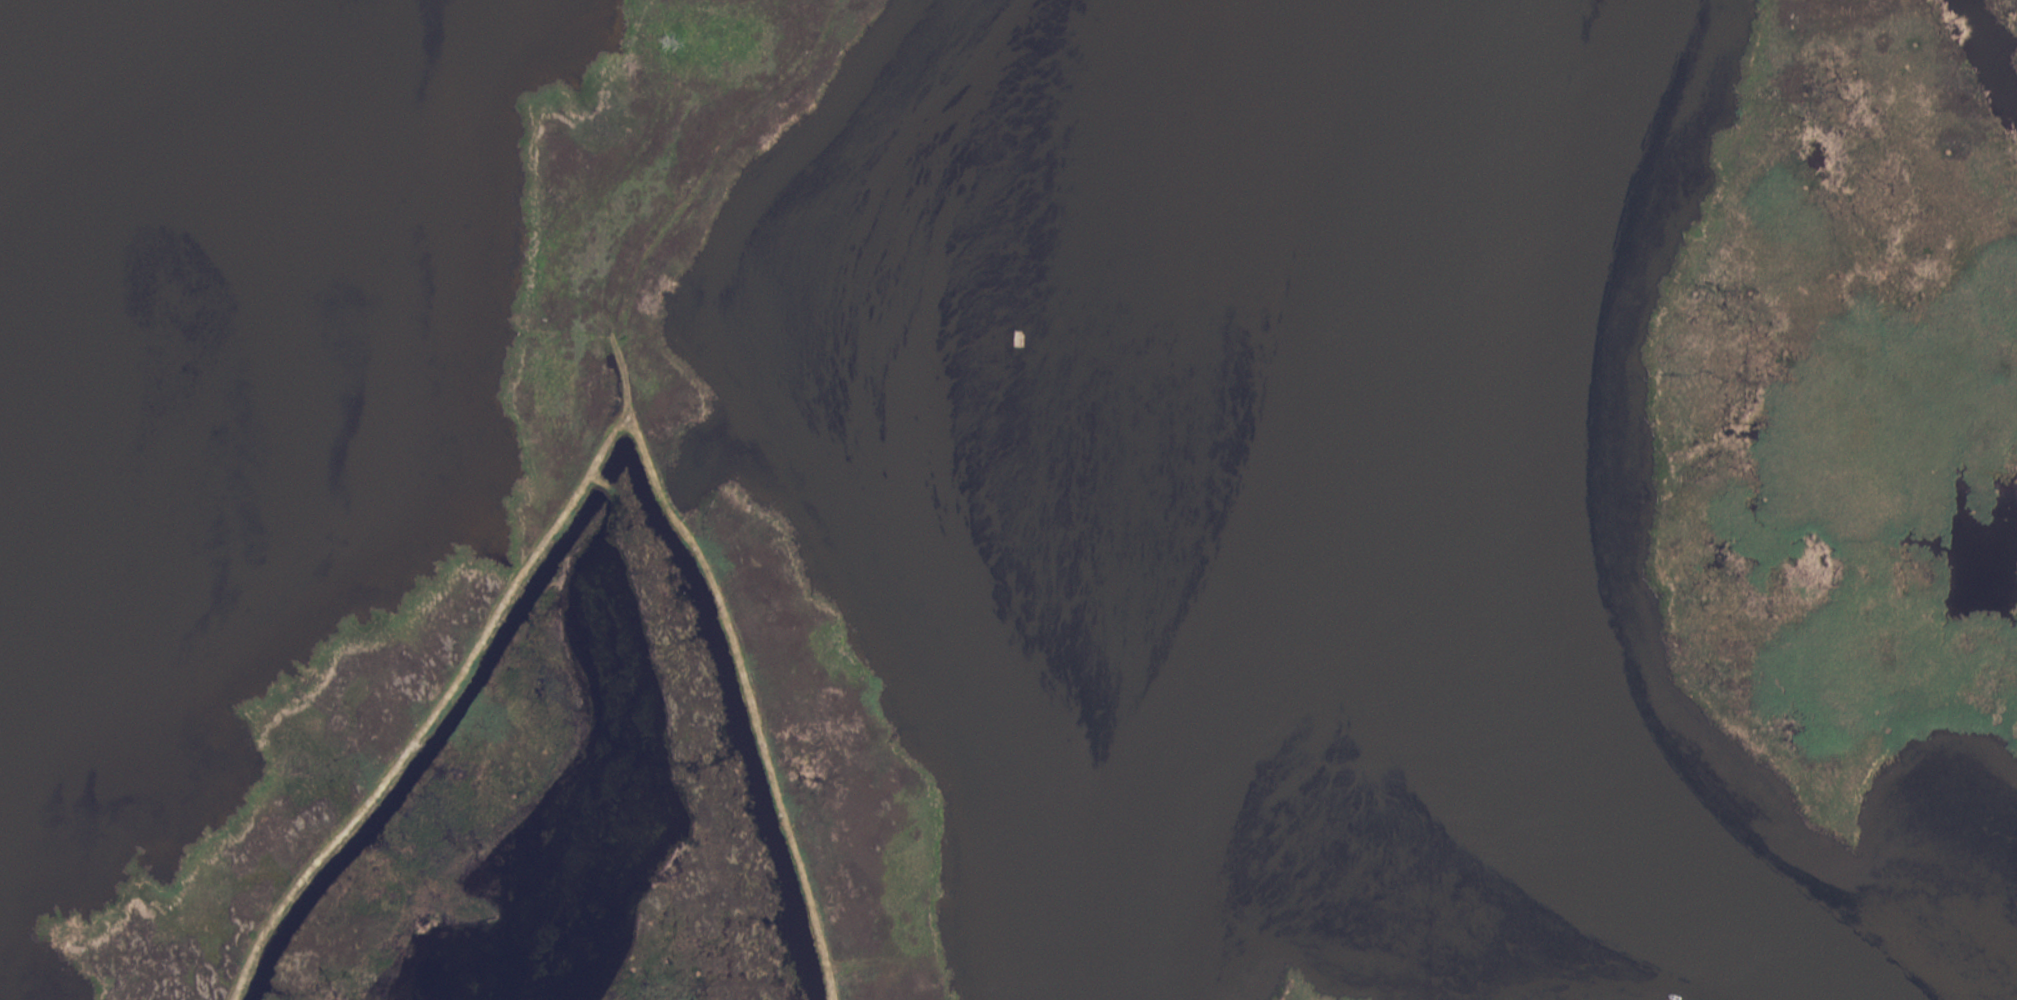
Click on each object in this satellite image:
road: (600, 454)

